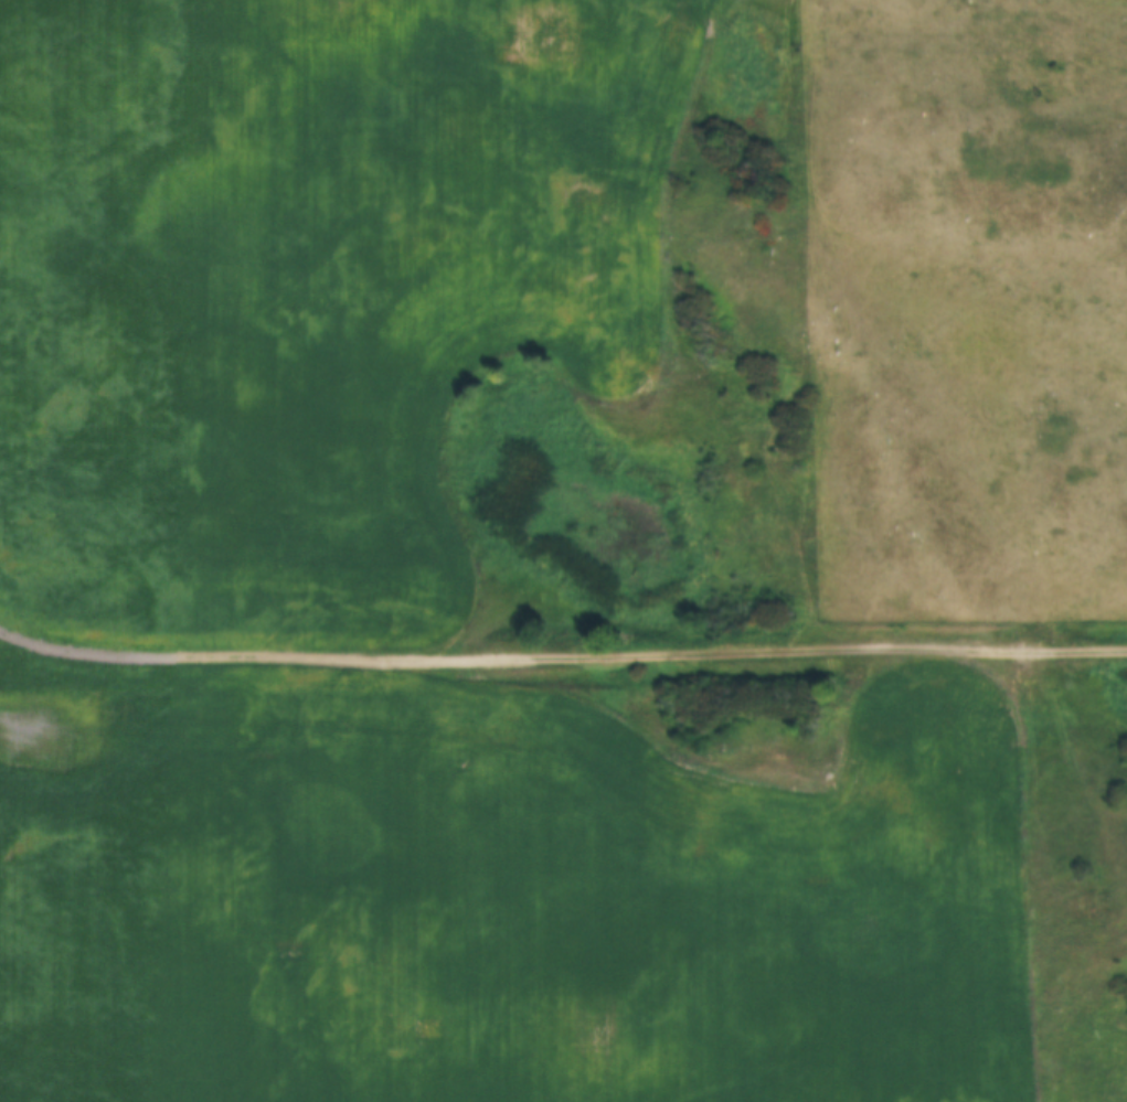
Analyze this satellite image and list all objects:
road: (563, 657)

